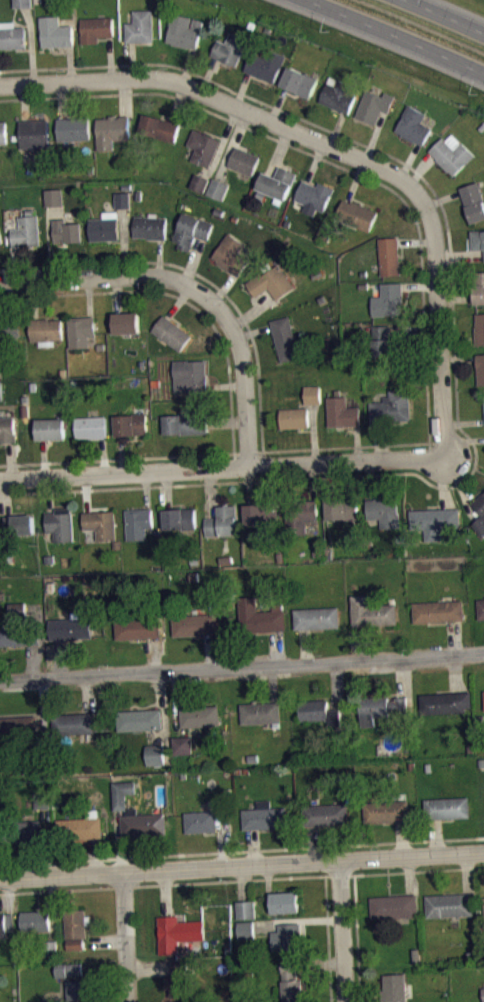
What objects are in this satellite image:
building: (23, 3)
road: (447, 15)
building: (140, 26)
building: (95, 28)
building: (184, 30)
building: (56, 31)
building: (13, 37)
road: (395, 37)
road: (32, 43)
building: (230, 48)
road: (109, 56)
road: (131, 59)
road: (69, 62)
building: (265, 64)
road: (187, 65)
road: (207, 74)
building: (299, 81)
road: (241, 88)
building: (339, 94)
road: (124, 96)
road: (61, 99)
road: (24, 100)
road: (179, 103)
road: (277, 103)
building: (374, 105)
building: (414, 125)
building: (159, 127)
building: (73, 128)
road: (336, 128)
building: (112, 130)
building: (3, 131)
building: (35, 132)
road: (374, 135)
road: (222, 142)
road: (231, 144)
building: (203, 146)
road: (278, 150)
road: (341, 150)
building: (452, 154)
road: (409, 159)
building: (244, 160)
road: (314, 161)
road: (333, 162)
road: (421, 168)
road: (355, 180)
building: (199, 182)
building: (277, 182)
building: (200, 188)
building: (218, 188)
building: (314, 195)
building: (54, 196)
road: (442, 197)
building: (123, 199)
building: (474, 200)
building: (358, 214)
building: (150, 226)
building: (104, 228)
building: (192, 229)
building: (27, 230)
building: (67, 230)
building: (1, 237)
building: (477, 238)
road: (125, 241)
road: (416, 241)
road: (50, 242)
building: (231, 253)
building: (389, 255)
road: (460, 255)
road: (159, 257)
road: (192, 259)
road: (17, 263)
road: (197, 272)
building: (271, 282)
road: (419, 285)
road: (193, 287)
road: (223, 287)
building: (479, 287)
road: (117, 294)
road: (177, 295)
road: (89, 297)
road: (456, 298)
road: (34, 299)
building: (388, 299)
road: (178, 301)
road: (251, 311)
building: (127, 322)
building: (46, 328)
building: (479, 329)
building: (10, 330)
building: (81, 330)
road: (253, 330)
road: (414, 330)
building: (172, 332)
building: (284, 338)
road: (453, 339)
road: (456, 339)
building: (388, 343)
road: (457, 357)
building: (480, 368)
building: (190, 375)
road: (226, 385)
building: (1, 389)
building: (312, 394)
building: (392, 406)
building: (341, 412)
building: (294, 417)
road: (226, 421)
road: (462, 421)
building: (185, 423)
building: (131, 424)
building: (92, 427)
building: (7, 429)
building: (51, 429)
road: (313, 432)
road: (379, 440)
road: (356, 442)
road: (461, 442)
road: (225, 452)
road: (121, 453)
road: (103, 456)
road: (43, 458)
road: (8, 460)
road: (220, 466)
road: (370, 478)
road: (328, 479)
road: (312, 480)
road: (443, 482)
road: (248, 484)
road: (460, 487)
road: (145, 488)
road: (167, 489)
road: (210, 491)
road: (86, 492)
road: (49, 494)
road: (7, 497)
building: (341, 507)
building: (480, 508)
building: (383, 510)
building: (300, 514)
building: (263, 515)
building: (179, 518)
building: (434, 520)
building: (138, 521)
building: (222, 521)
building: (101, 522)
building: (61, 523)
building: (19, 524)
building: (16, 608)
building: (481, 608)
building: (438, 610)
building: (372, 611)
building: (260, 616)
building: (317, 617)
building: (195, 624)
building: (70, 627)
building: (137, 627)
building: (19, 633)
road: (454, 636)
road: (40, 637)
road: (362, 641)
road: (306, 645)
road: (277, 646)
road: (210, 650)
road: (152, 654)
road: (58, 657)
road: (242, 665)
road: (456, 672)
road: (400, 676)
road: (272, 683)
road: (335, 684)
road: (86, 694)
road: (175, 702)
building: (445, 702)
road: (164, 706)
building: (380, 707)
road: (42, 710)
building: (319, 711)
building: (260, 712)
building: (199, 715)
building: (139, 719)
building: (73, 722)
building: (18, 726)
building: (181, 744)
building: (36, 752)
building: (155, 753)
building: (122, 793)
building: (42, 799)
building: (43, 806)
building: (447, 807)
building: (387, 810)
building: (326, 814)
building: (264, 816)
building: (201, 821)
building: (144, 824)
building: (81, 826)
building: (22, 831)
road: (435, 836)
road: (401, 838)
road: (221, 839)
road: (47, 840)
road: (118, 840)
road: (314, 843)
road: (253, 846)
road: (241, 849)
road: (94, 855)
road: (241, 865)
road: (419, 870)
road: (468, 873)
road: (339, 874)
road: (408, 874)
road: (244, 882)
road: (162, 883)
road: (165, 891)
road: (9, 892)
building: (285, 902)
building: (449, 904)
building: (394, 905)
road: (52, 907)
building: (246, 909)
building: (36, 920)
road: (297, 920)
building: (6, 922)
building: (75, 923)
building: (246, 929)
road: (341, 930)
building: (178, 932)
road: (124, 936)
building: (287, 936)
road: (327, 938)
road: (357, 938)
road: (106, 940)
building: (51, 947)
road: (319, 962)
building: (181, 964)
road: (150, 966)
building: (68, 967)
building: (70, 976)
building: (290, 981)
building: (180, 985)
building: (394, 987)
building: (78, 991)
building: (483, 991)

